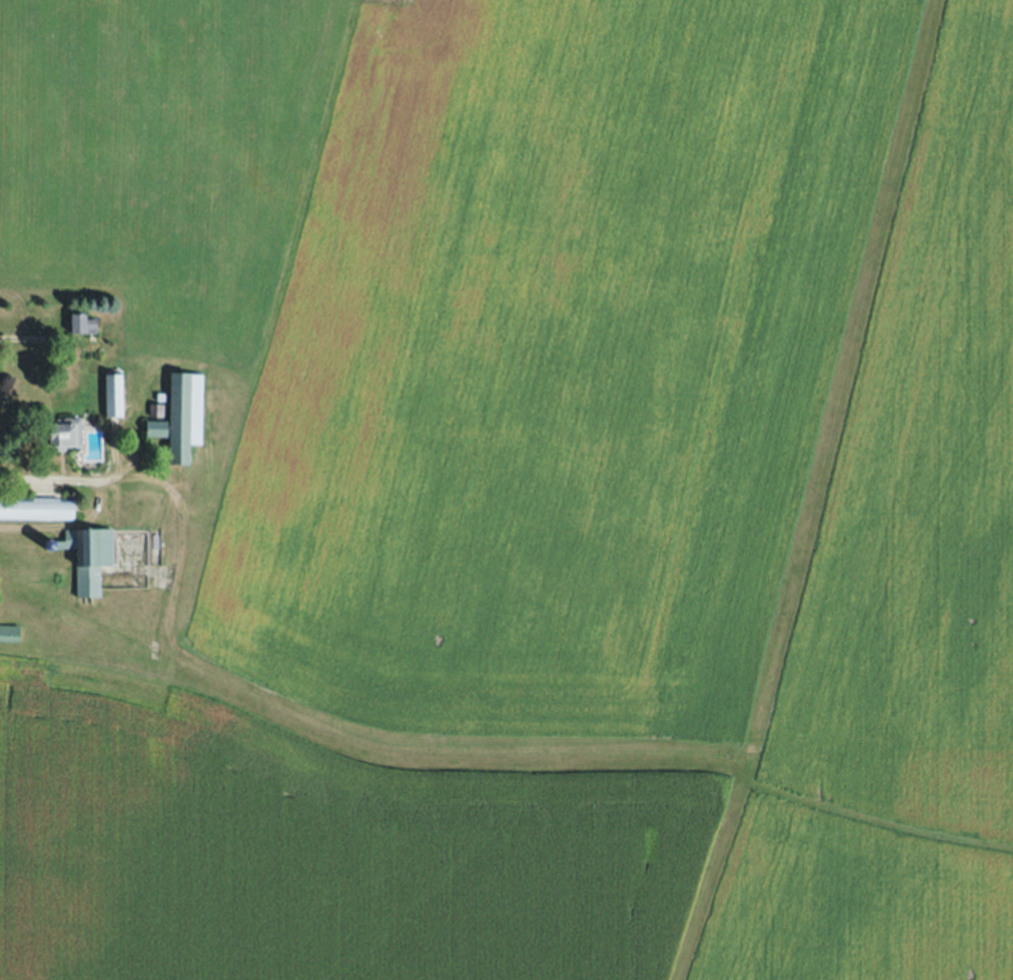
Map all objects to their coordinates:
building: (81, 322)
road: (38, 338)
airport runway: (791, 371)
building: (114, 394)
building: (161, 396)
building: (156, 409)
building: (184, 414)
building: (156, 426)
building: (66, 431)
road: (62, 480)
building: (36, 508)
building: (87, 556)
building: (8, 631)

